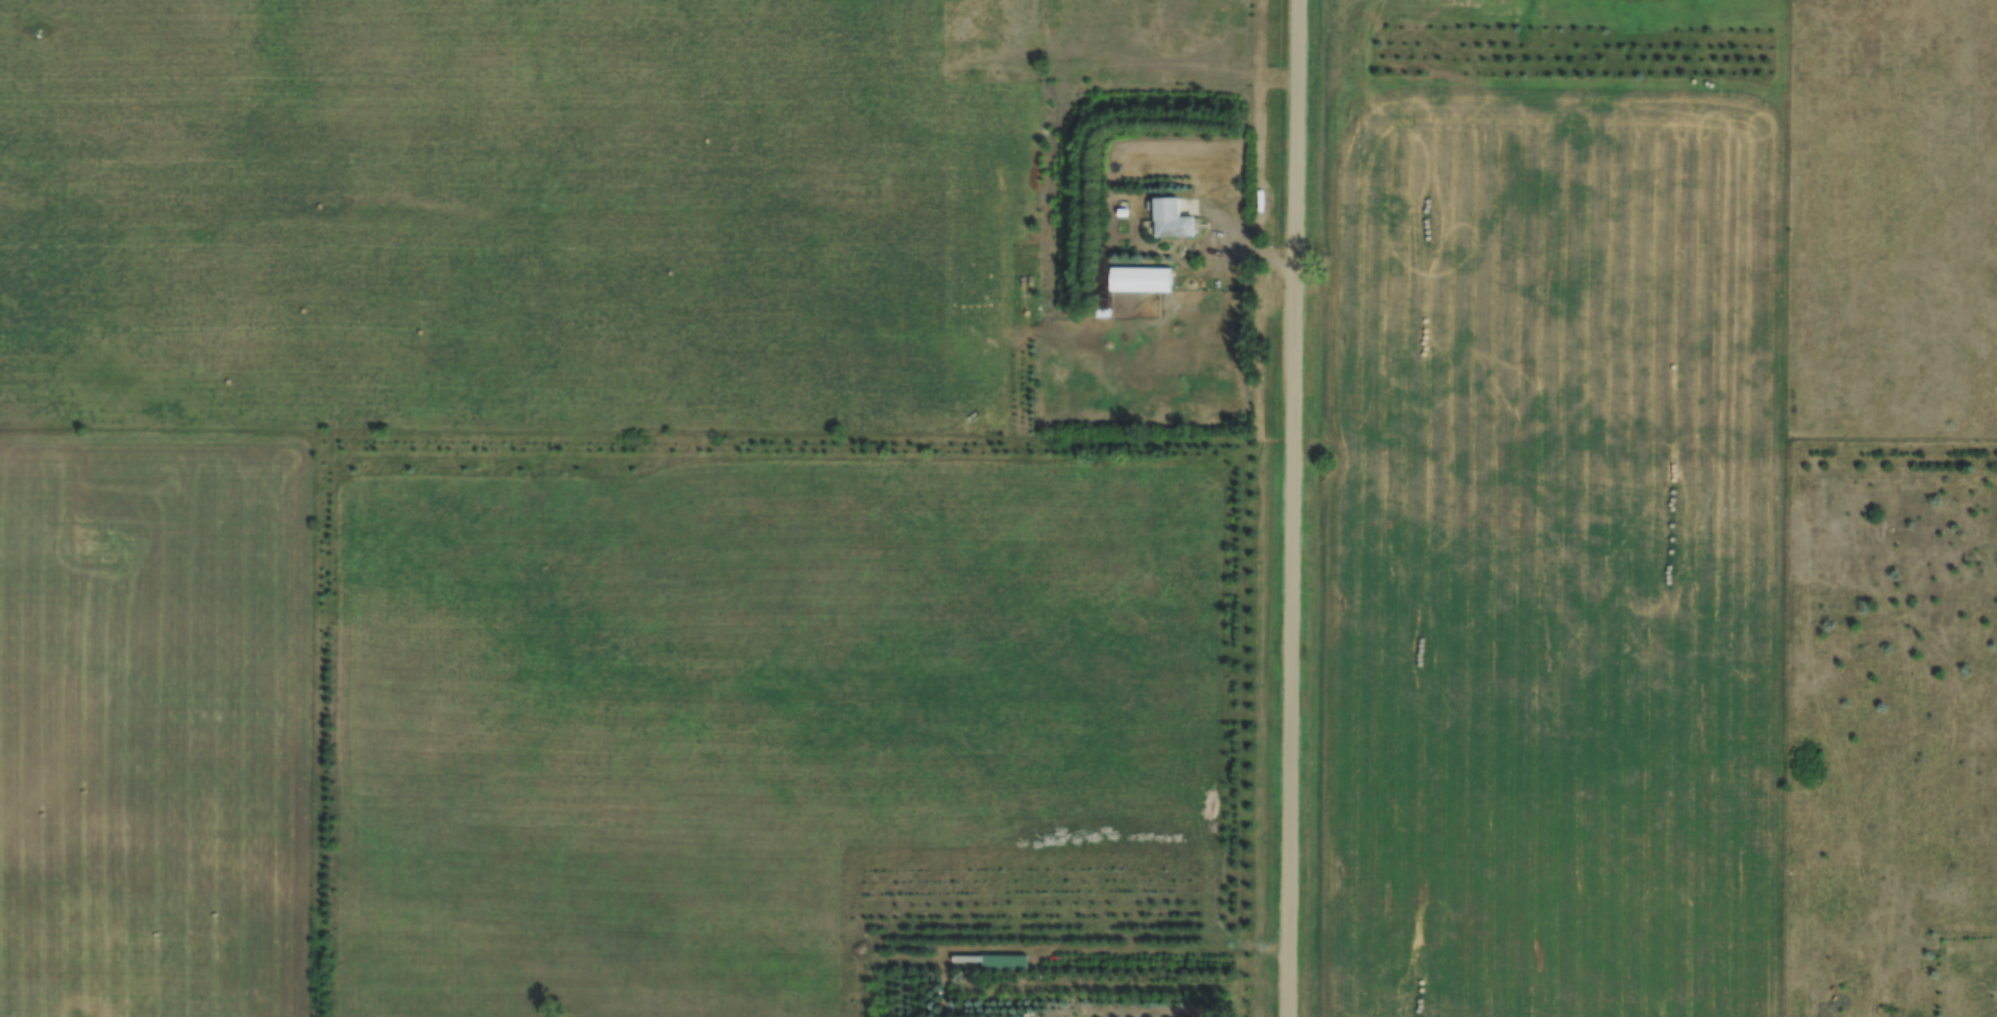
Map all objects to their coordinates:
building: (1172, 218)
building: (1141, 279)
road: (1292, 508)
building: (967, 964)

